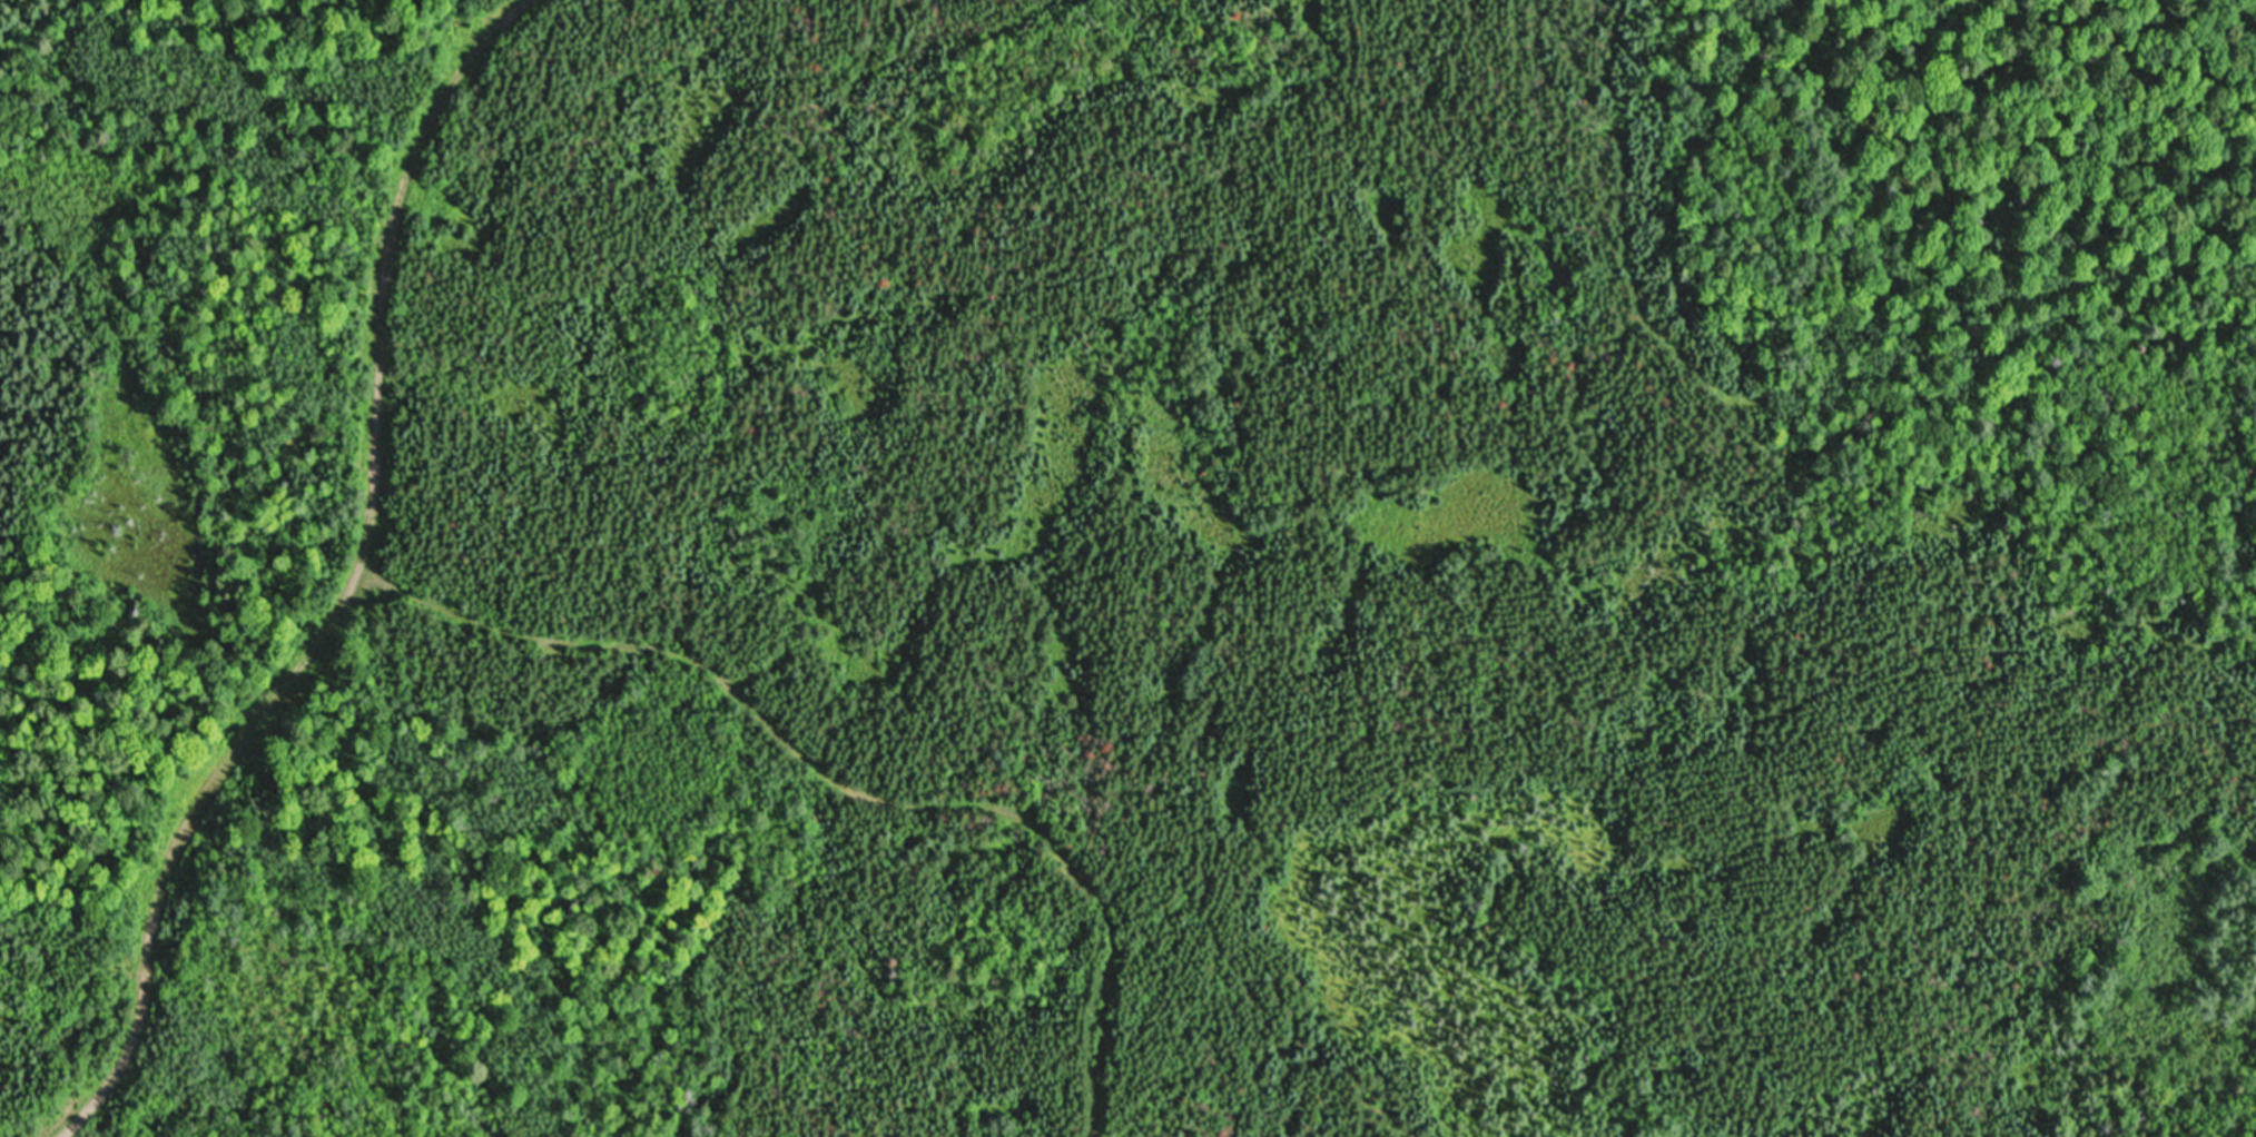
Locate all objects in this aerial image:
road: (339, 590)

